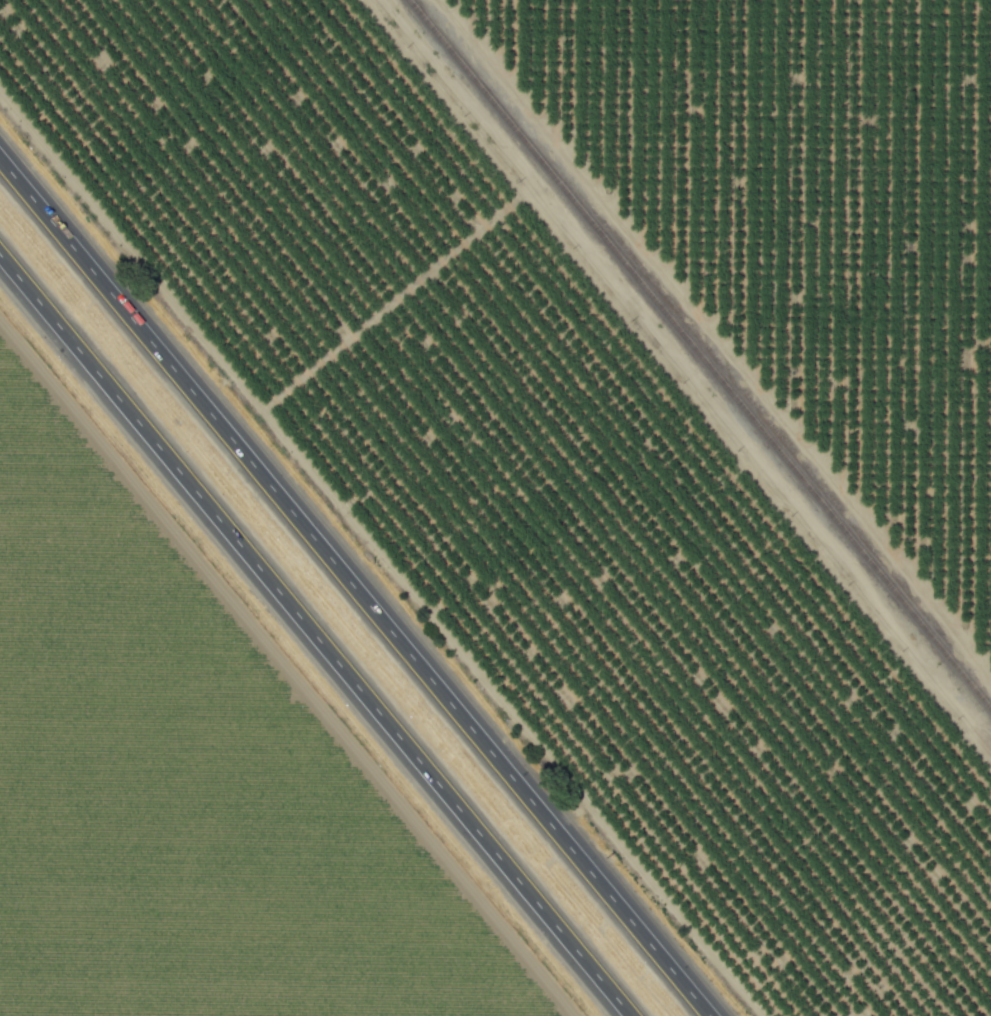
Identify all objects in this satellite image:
railway: (699, 354)
road: (354, 588)
road: (314, 636)

